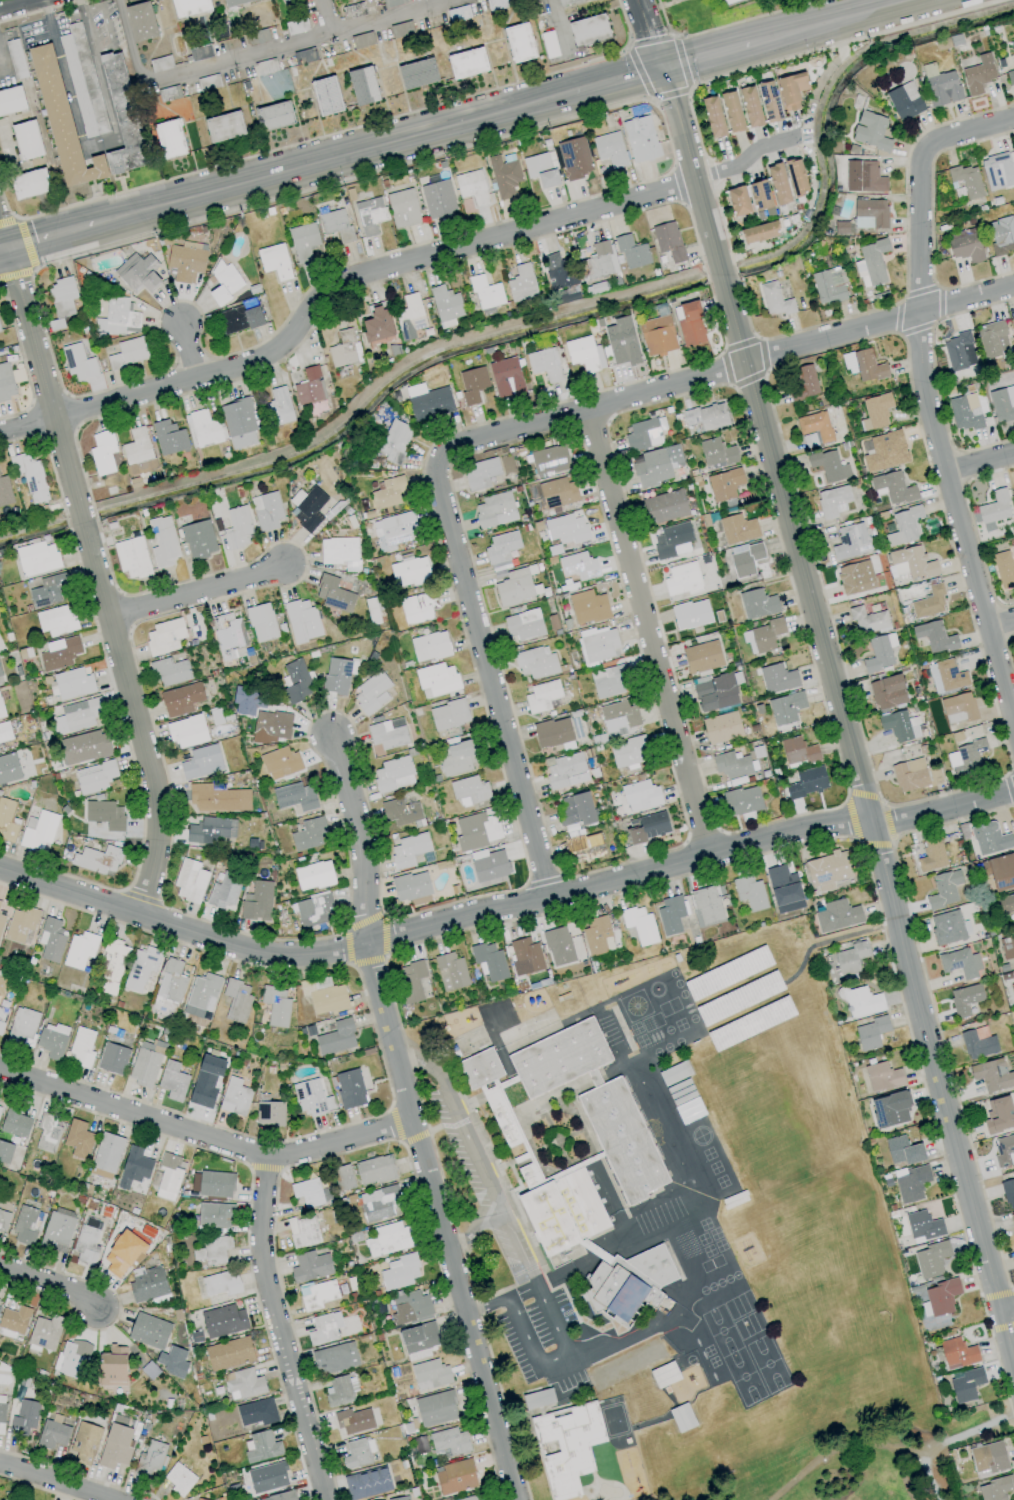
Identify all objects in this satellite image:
building: (285, 0)
building: (567, 1)
building: (727, 1)
building: (236, 2)
building: (535, 2)
building: (392, 3)
road: (17, 5)
road: (80, 5)
building: (189, 7)
road: (389, 17)
building: (141, 21)
road: (829, 23)
road: (106, 26)
building: (299, 26)
road: (556, 27)
building: (401, 29)
building: (588, 30)
road: (646, 37)
building: (362, 40)
road: (126, 42)
building: (519, 42)
building: (1012, 48)
building: (200, 53)
road: (251, 54)
building: (304, 56)
road: (706, 60)
building: (160, 63)
building: (467, 63)
building: (265, 67)
building: (417, 73)
road: (63, 75)
building: (79, 75)
building: (978, 75)
building: (1010, 77)
building: (208, 82)
building: (363, 86)
road: (615, 86)
building: (940, 86)
road: (102, 87)
building: (791, 90)
building: (326, 96)
building: (11, 100)
building: (769, 101)
building: (904, 101)
building: (750, 107)
building: (732, 112)
building: (274, 116)
building: (123, 117)
building: (713, 117)
building: (61, 121)
building: (224, 127)
building: (870, 131)
building: (169, 139)
building: (641, 139)
building: (27, 140)
building: (610, 149)
road: (748, 157)
building: (574, 158)
road: (332, 161)
building: (541, 169)
building: (997, 171)
building: (865, 175)
building: (503, 176)
building: (796, 177)
building: (966, 181)
building: (29, 184)
building: (778, 184)
road: (916, 184)
building: (472, 187)
building: (760, 195)
building: (437, 199)
building: (738, 201)
building: (403, 208)
building: (870, 214)
building: (370, 215)
building: (336, 225)
building: (759, 232)
building: (1001, 234)
road: (49, 236)
building: (668, 241)
building: (303, 242)
road: (1, 243)
building: (965, 245)
road: (1, 248)
building: (631, 252)
building: (186, 261)
building: (274, 261)
building: (600, 261)
building: (871, 263)
building: (558, 272)
building: (138, 273)
road: (359, 280)
building: (224, 283)
building: (521, 284)
building: (829, 285)
building: (485, 293)
building: (62, 296)
building: (775, 300)
building: (445, 306)
building: (117, 317)
building: (409, 317)
building: (239, 319)
building: (1013, 320)
building: (689, 324)
building: (377, 325)
building: (657, 335)
building: (991, 338)
building: (622, 341)
building: (344, 349)
building: (959, 351)
building: (129, 353)
building: (584, 354)
road: (188, 357)
building: (79, 362)
building: (545, 364)
building: (863, 365)
road: (719, 372)
building: (506, 378)
building: (6, 383)
building: (803, 383)
building: (472, 384)
building: (308, 387)
building: (1002, 403)
building: (430, 404)
building: (279, 407)
building: (875, 411)
building: (965, 412)
building: (706, 416)
building: (239, 424)
road: (26, 426)
building: (203, 428)
building: (814, 429)
building: (643, 435)
building: (169, 437)
building: (394, 441)
building: (137, 446)
building: (102, 452)
building: (885, 452)
building: (716, 454)
building: (549, 460)
road: (977, 462)
building: (656, 465)
building: (828, 466)
building: (141, 467)
building: (481, 474)
building: (30, 476)
building: (724, 484)
building: (1013, 485)
building: (893, 488)
building: (5, 491)
building: (389, 493)
building: (557, 493)
building: (832, 501)
building: (307, 507)
building: (665, 507)
building: (495, 510)
building: (993, 510)
building: (267, 511)
road: (955, 524)
building: (904, 526)
building: (237, 528)
building: (394, 529)
building: (566, 529)
building: (737, 529)
building: (198, 540)
building: (672, 541)
building: (850, 541)
building: (163, 542)
building: (340, 552)
building: (501, 552)
building: (132, 557)
building: (37, 558)
building: (746, 558)
building: (913, 562)
building: (578, 566)
building: (1004, 569)
building: (409, 571)
building: (855, 578)
building: (682, 579)
road: (99, 580)
building: (515, 587)
building: (49, 590)
road: (196, 590)
building: (333, 594)
building: (928, 602)
building: (757, 604)
building: (588, 607)
building: (416, 608)
building: (691, 614)
building: (868, 620)
building: (56, 621)
building: (302, 621)
building: (261, 622)
building: (524, 625)
road: (1000, 625)
road: (647, 633)
building: (228, 635)
building: (763, 636)
building: (164, 637)
building: (934, 637)
building: (598, 645)
building: (430, 646)
building: (59, 653)
building: (879, 653)
building: (702, 657)
building: (535, 663)
building: (169, 671)
building: (337, 675)
building: (946, 676)
road: (486, 677)
building: (778, 678)
building: (1, 679)
building: (437, 679)
building: (296, 681)
building: (609, 681)
building: (71, 684)
building: (715, 692)
building: (887, 692)
building: (371, 694)
building: (542, 696)
building: (180, 699)
building: (248, 701)
building: (785, 708)
building: (958, 708)
building: (1, 711)
building: (449, 714)
building: (78, 715)
building: (618, 718)
road: (842, 719)
building: (272, 724)
building: (899, 726)
building: (722, 727)
building: (187, 731)
building: (5, 732)
building: (388, 733)
building: (84, 747)
building: (797, 751)
building: (628, 752)
building: (966, 757)
building: (459, 758)
building: (201, 762)
building: (280, 763)
building: (731, 765)
building: (8, 768)
building: (565, 770)
building: (393, 774)
building: (910, 775)
building: (94, 777)
building: (807, 782)
building: (469, 791)
building: (640, 795)
building: (294, 797)
building: (212, 798)
building: (742, 801)
building: (576, 810)
building: (400, 812)
building: (104, 814)
building: (7, 820)
building: (647, 827)
building: (38, 830)
building: (210, 830)
building: (476, 831)
building: (309, 833)
building: (988, 839)
building: (584, 848)
building: (408, 850)
building: (930, 855)
building: (97, 860)
building: (488, 865)
building: (1001, 870)
building: (827, 871)
building: (314, 875)
building: (190, 881)
building: (782, 885)
building: (410, 886)
building: (943, 888)
building: (224, 892)
building: (749, 893)
building: (0, 902)
building: (257, 902)
building: (1003, 904)
building: (707, 905)
road: (506, 907)
building: (314, 909)
building: (670, 915)
building: (837, 916)
building: (1, 920)
building: (639, 925)
building: (944, 927)
building: (20, 929)
building: (597, 936)
building: (51, 940)
building: (558, 946)
building: (1010, 947)
building: (79, 951)
building: (527, 954)
building: (851, 960)
building: (489, 961)
building: (960, 961)
building: (112, 964)
building: (141, 968)
road: (800, 968)
building: (450, 971)
building: (171, 981)
building: (411, 981)
building: (2, 985)
building: (1012, 990)
building: (324, 995)
building: (201, 996)
building: (964, 999)
building: (236, 1000)
building: (861, 1002)
building: (276, 1006)
building: (2, 1017)
building: (21, 1026)
building: (871, 1033)
building: (336, 1038)
building: (52, 1040)
building: (975, 1045)
building: (82, 1047)
building: (112, 1058)
building: (144, 1064)
road: (425, 1065)
building: (674, 1073)
building: (990, 1074)
building: (882, 1077)
building: (172, 1081)
building: (206, 1081)
building: (350, 1089)
building: (234, 1097)
building: (312, 1098)
building: (685, 1101)
building: (1, 1104)
building: (890, 1109)
building: (1000, 1115)
road: (412, 1121)
building: (15, 1123)
building: (47, 1133)
road: (205, 1134)
building: (78, 1139)
building: (903, 1150)
road: (474, 1151)
building: (5, 1152)
building: (1000, 1152)
building: (106, 1156)
building: (134, 1167)
building: (374, 1170)
building: (638, 1174)
building: (169, 1176)
building: (343, 1178)
building: (910, 1182)
building: (215, 1184)
building: (1007, 1192)
building: (308, 1193)
building: (380, 1203)
building: (214, 1215)
building: (1013, 1218)
building: (3, 1221)
building: (27, 1225)
building: (923, 1226)
road: (471, 1229)
building: (58, 1230)
building: (303, 1230)
building: (388, 1239)
building: (87, 1241)
building: (213, 1250)
building: (123, 1254)
building: (931, 1259)
building: (310, 1266)
building: (399, 1272)
building: (221, 1284)
building: (147, 1286)
road: (49, 1289)
building: (317, 1294)
building: (941, 1297)
building: (410, 1308)
road: (1006, 1311)
building: (14, 1319)
building: (223, 1321)
road: (275, 1328)
building: (324, 1328)
building: (149, 1331)
building: (45, 1332)
road: (565, 1350)
building: (229, 1353)
building: (957, 1353)
building: (650, 1354)
building: (71, 1358)
building: (335, 1358)
building: (112, 1367)
building: (616, 1370)
building: (430, 1374)
building: (664, 1375)
building: (243, 1384)
building: (966, 1385)
building: (340, 1391)
building: (538, 1399)
building: (2, 1407)
building: (435, 1409)
building: (257, 1412)
building: (682, 1417)
building: (24, 1418)
building: (353, 1420)
building: (52, 1434)
road: (892, 1435)
building: (84, 1442)
building: (448, 1442)
building: (116, 1443)
building: (261, 1447)
building: (567, 1448)
building: (357, 1453)
building: (151, 1458)
building: (988, 1458)
park: (862, 1464)
road: (928, 1473)
building: (267, 1477)
building: (455, 1477)
building: (179, 1479)
road: (55, 1483)
building: (367, 1483)
building: (995, 1488)
building: (281, 1496)
building: (400, 1498)
building: (468, 1498)
building: (198, 1499)
building: (483, 1499)

